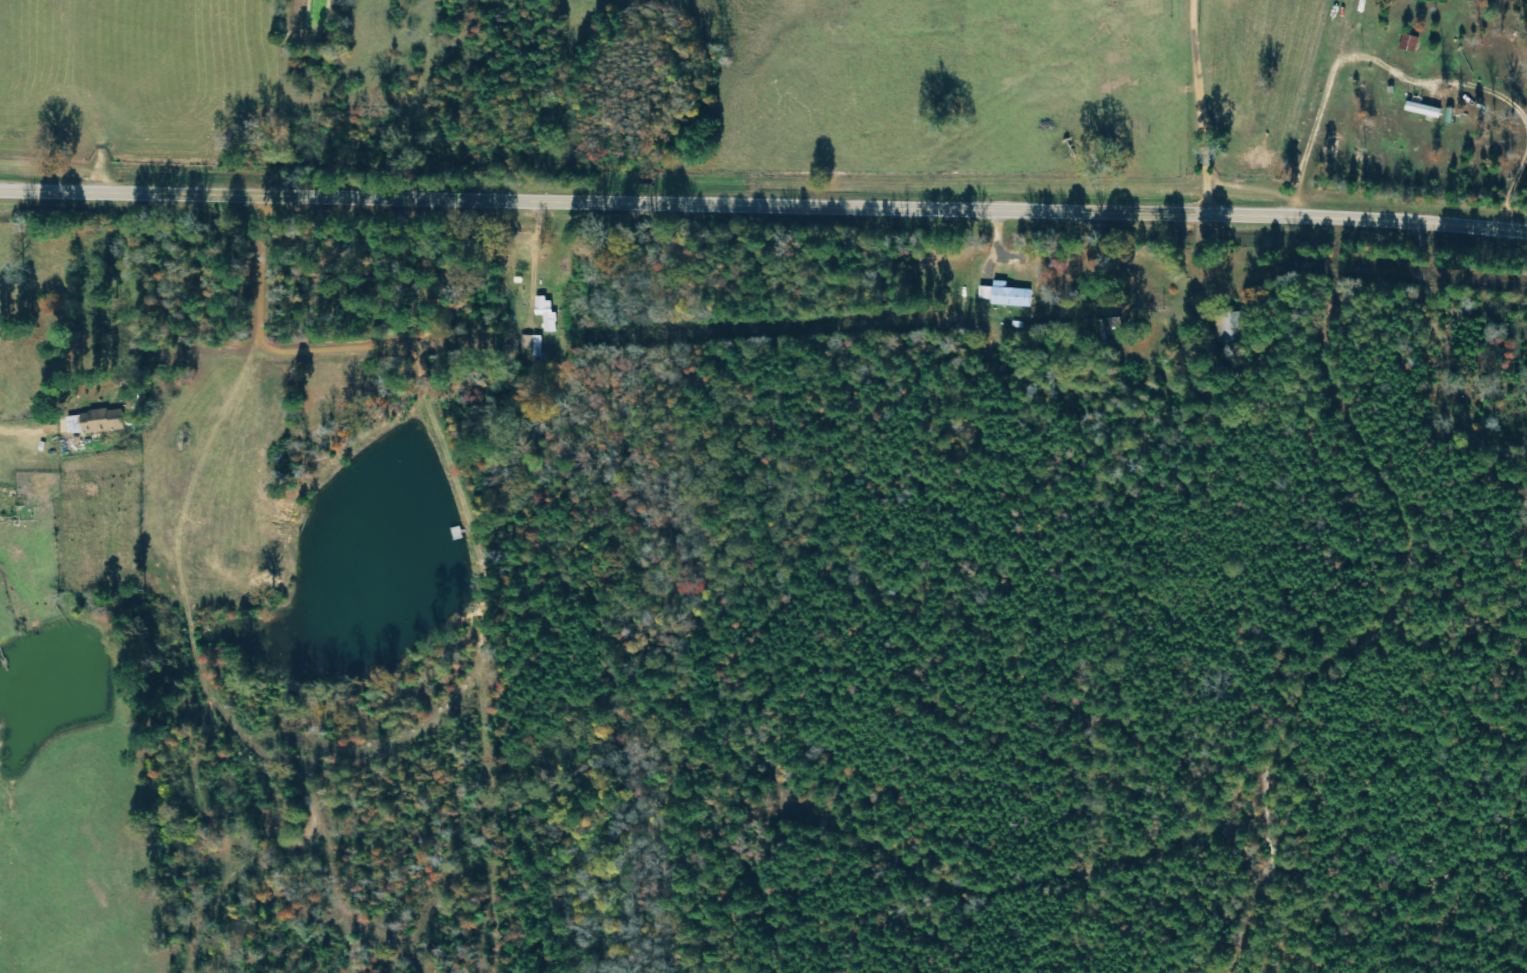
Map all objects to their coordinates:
building: (1409, 43)
road: (1199, 108)
road: (763, 208)
building: (1004, 295)
building: (546, 314)
building: (1228, 328)
road: (211, 354)
building: (94, 422)

